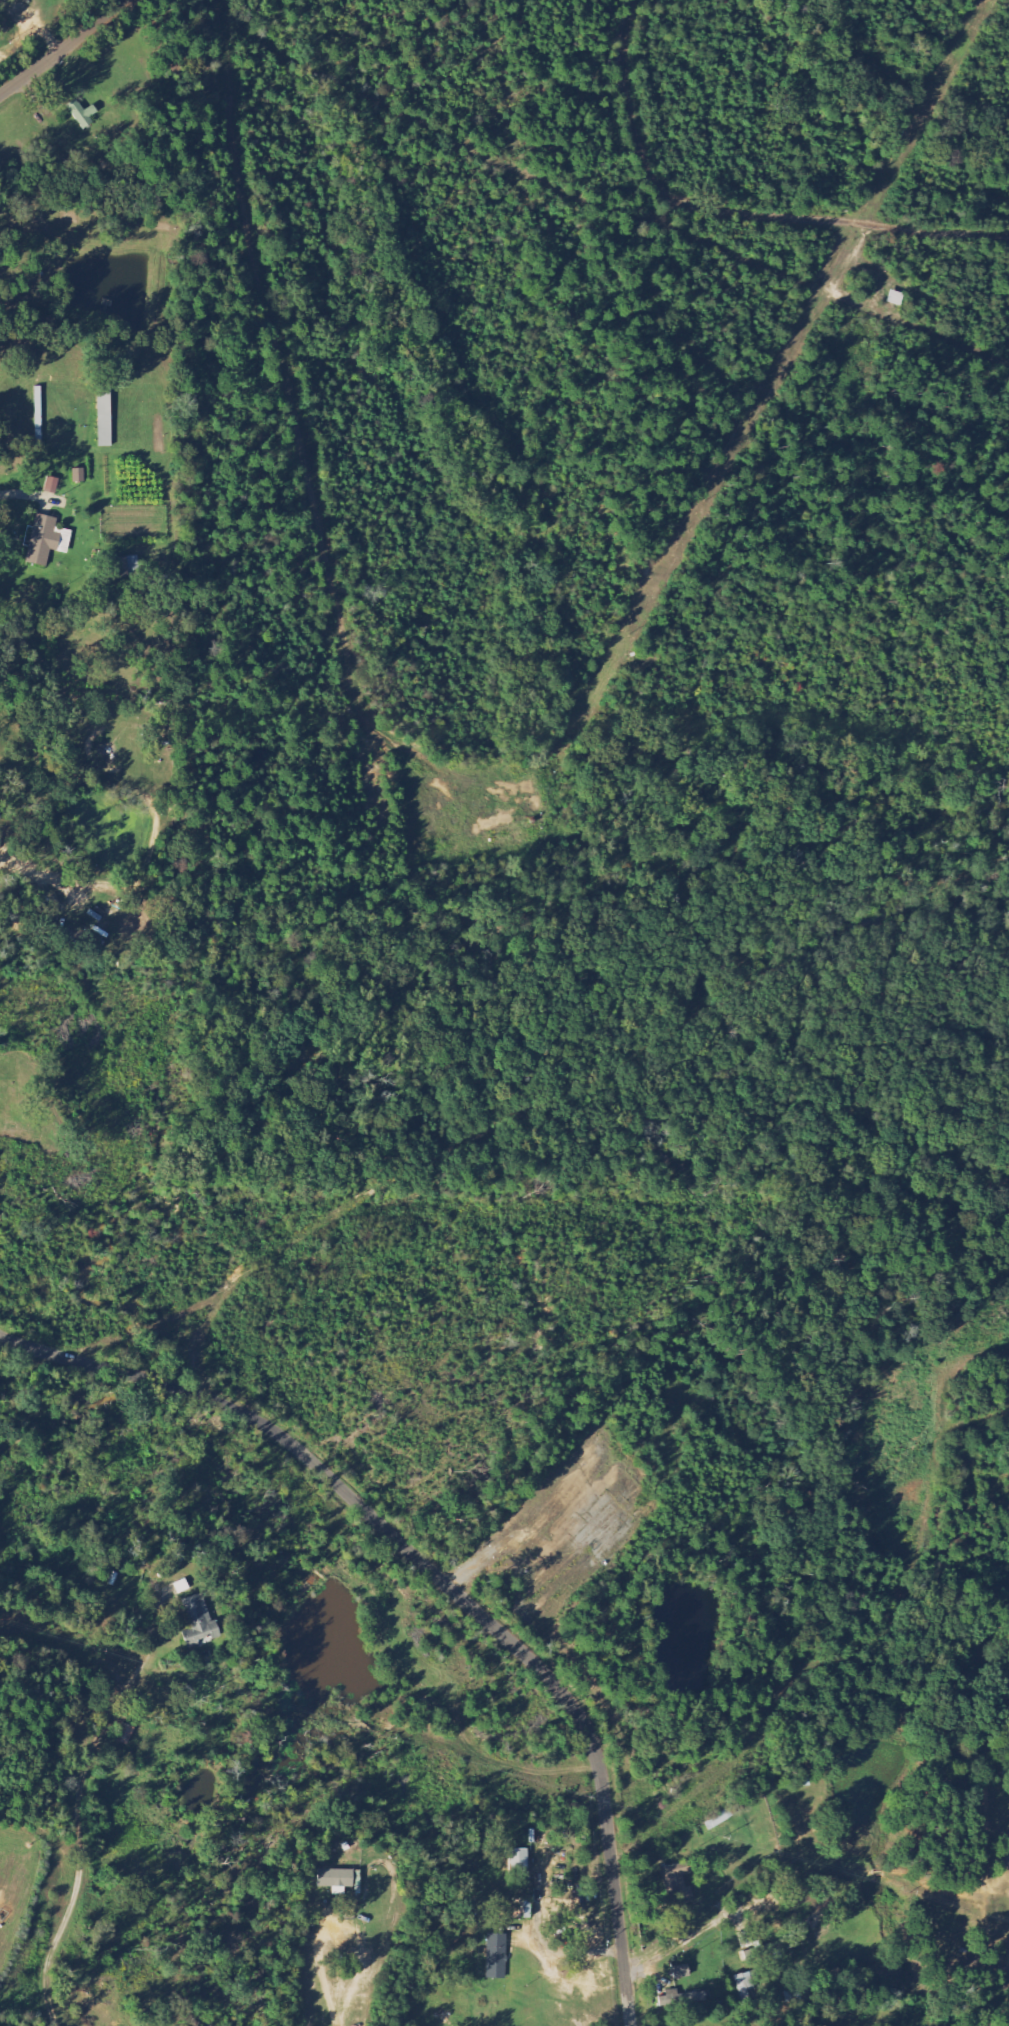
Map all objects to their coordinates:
building: (4, 0)
road: (60, 46)
building: (82, 114)
building: (78, 476)
building: (51, 486)
building: (46, 541)
road: (438, 1577)
building: (198, 1622)
road: (745, 1743)
building: (518, 1861)
building: (335, 1878)
building: (679, 1882)
building: (496, 1956)
building: (680, 1972)
building: (747, 1984)
building: (680, 1996)

